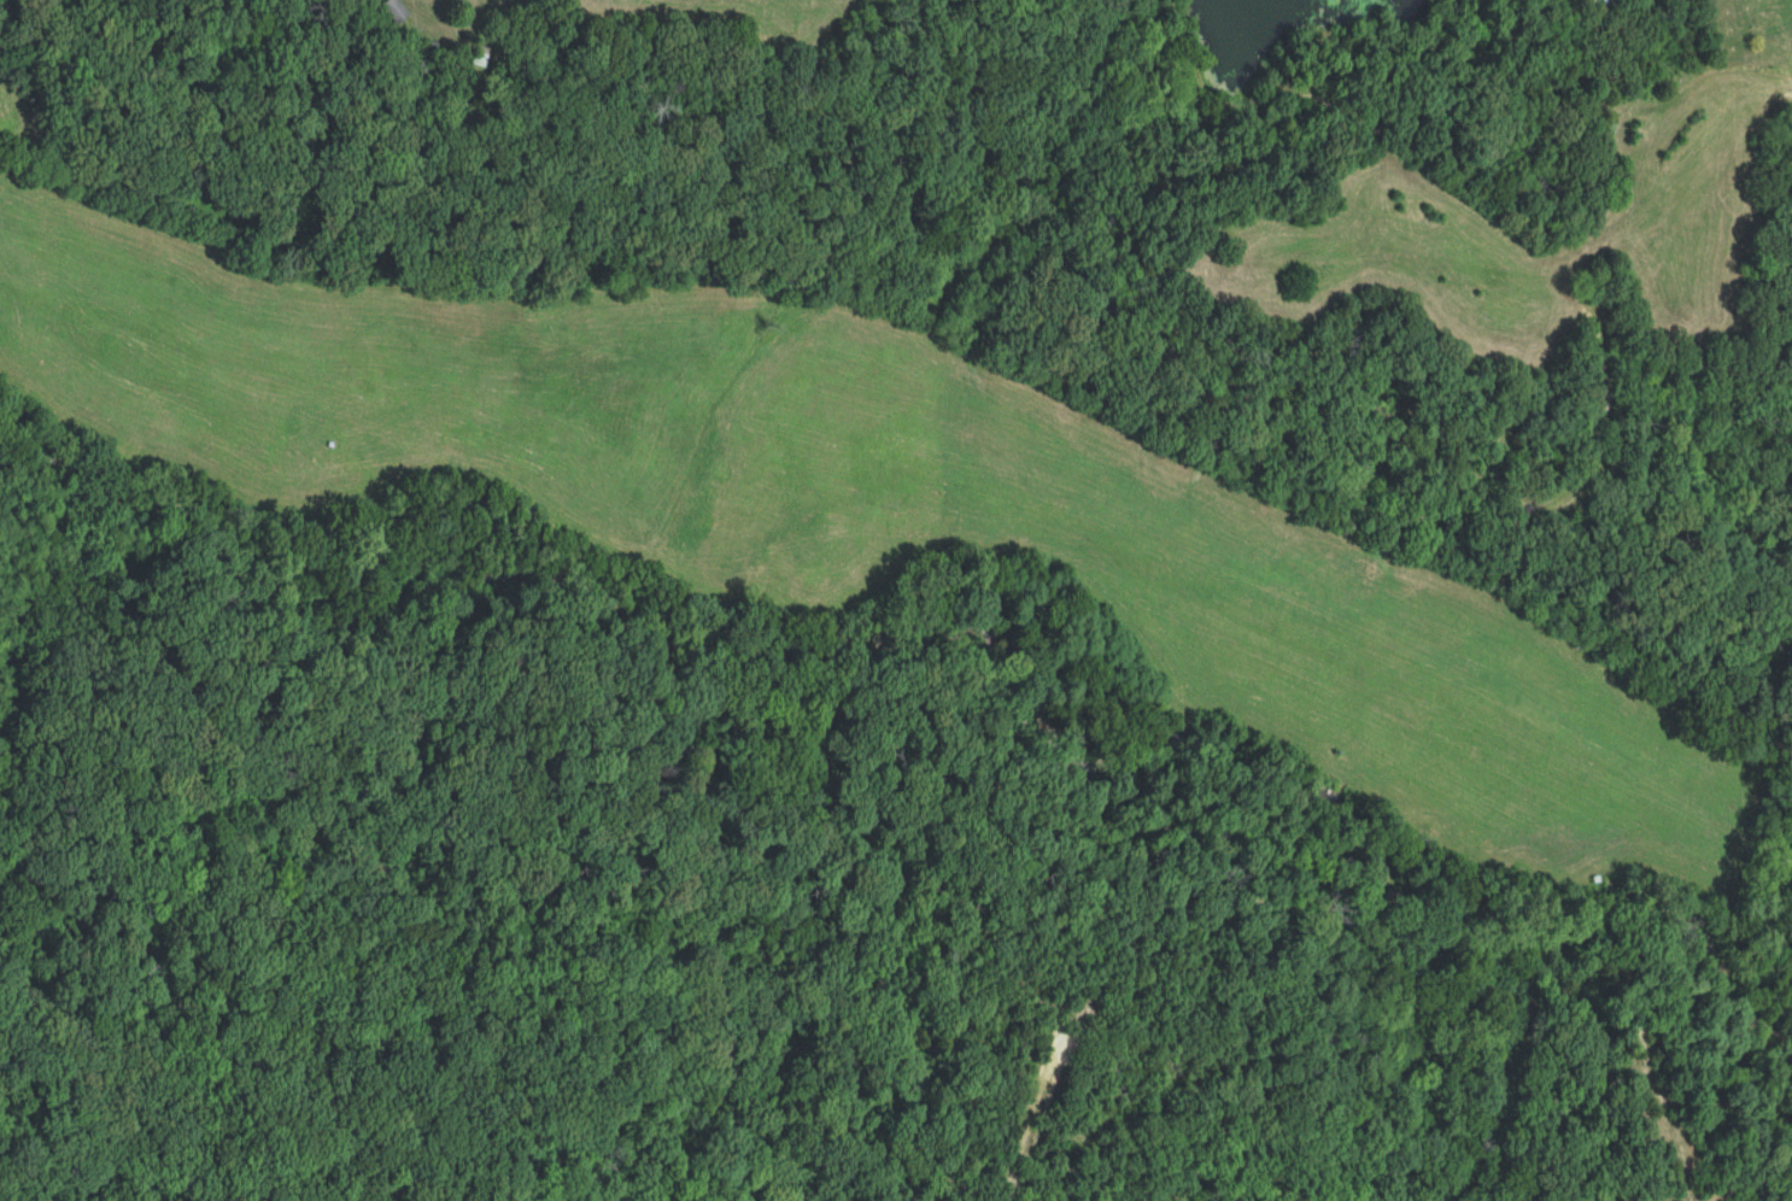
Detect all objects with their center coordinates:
road: (451, 18)

